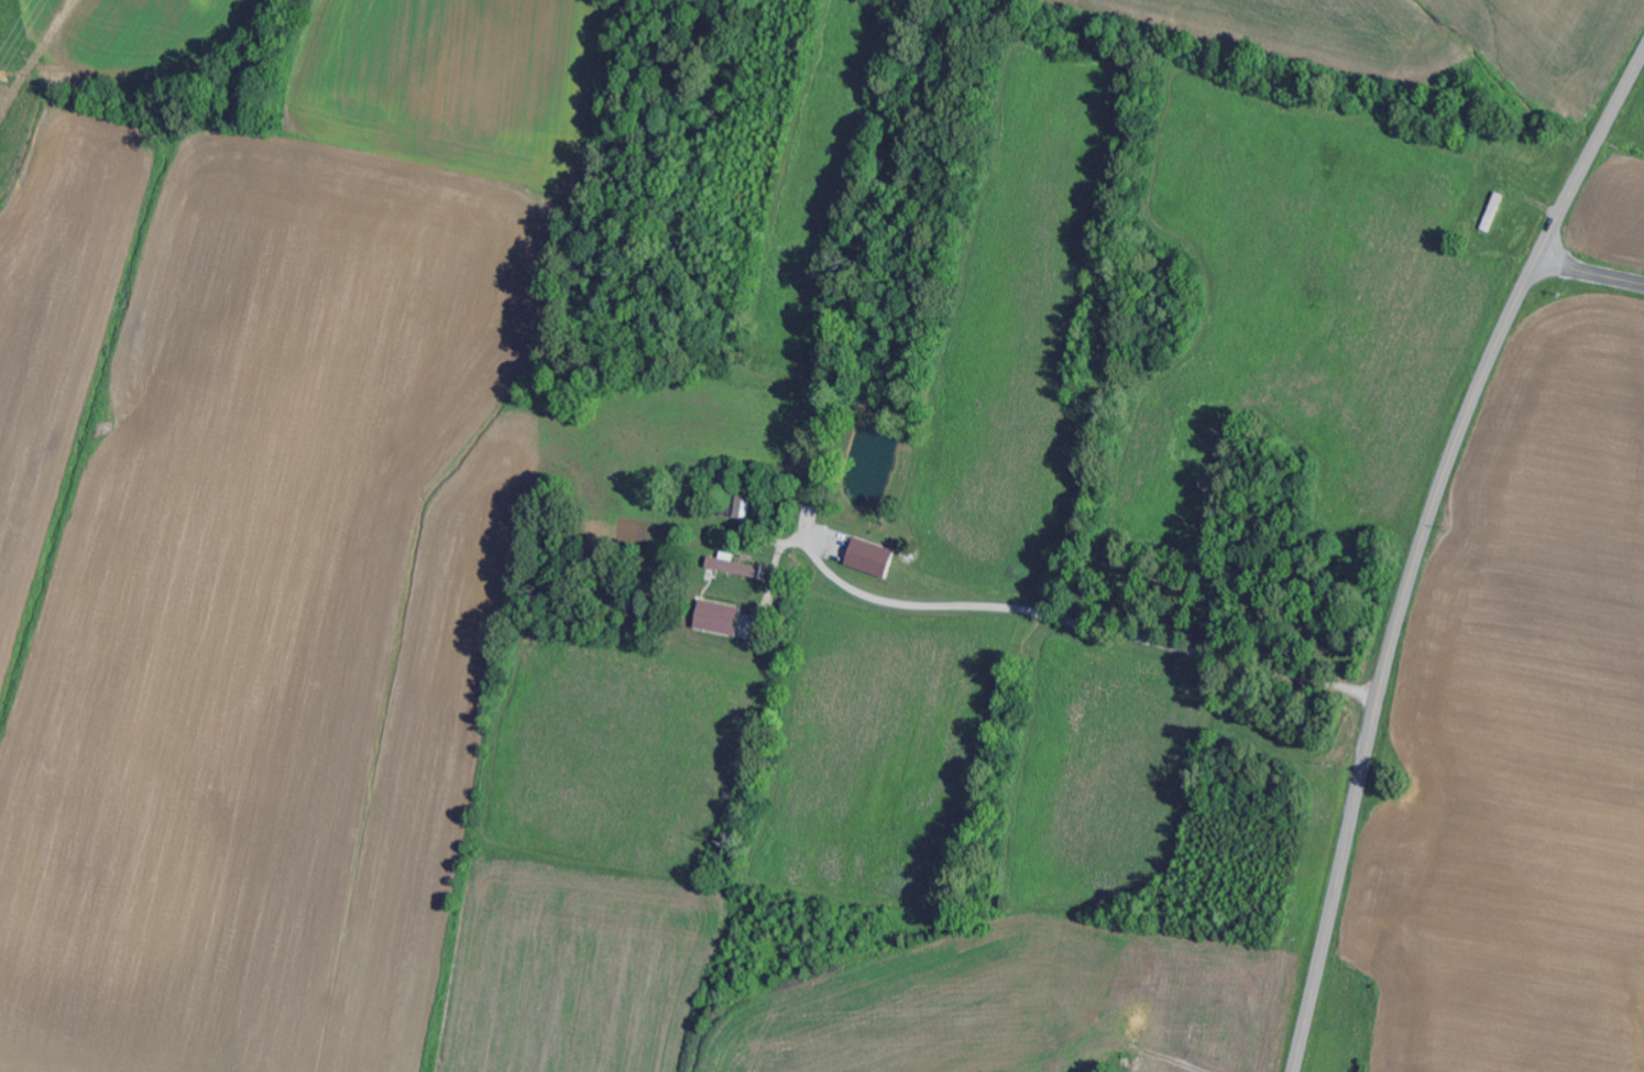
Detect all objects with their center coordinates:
road: (1589, 273)
road: (1418, 543)
building: (873, 558)
building: (737, 567)
building: (721, 617)
road: (1118, 630)
road: (1172, 1064)

